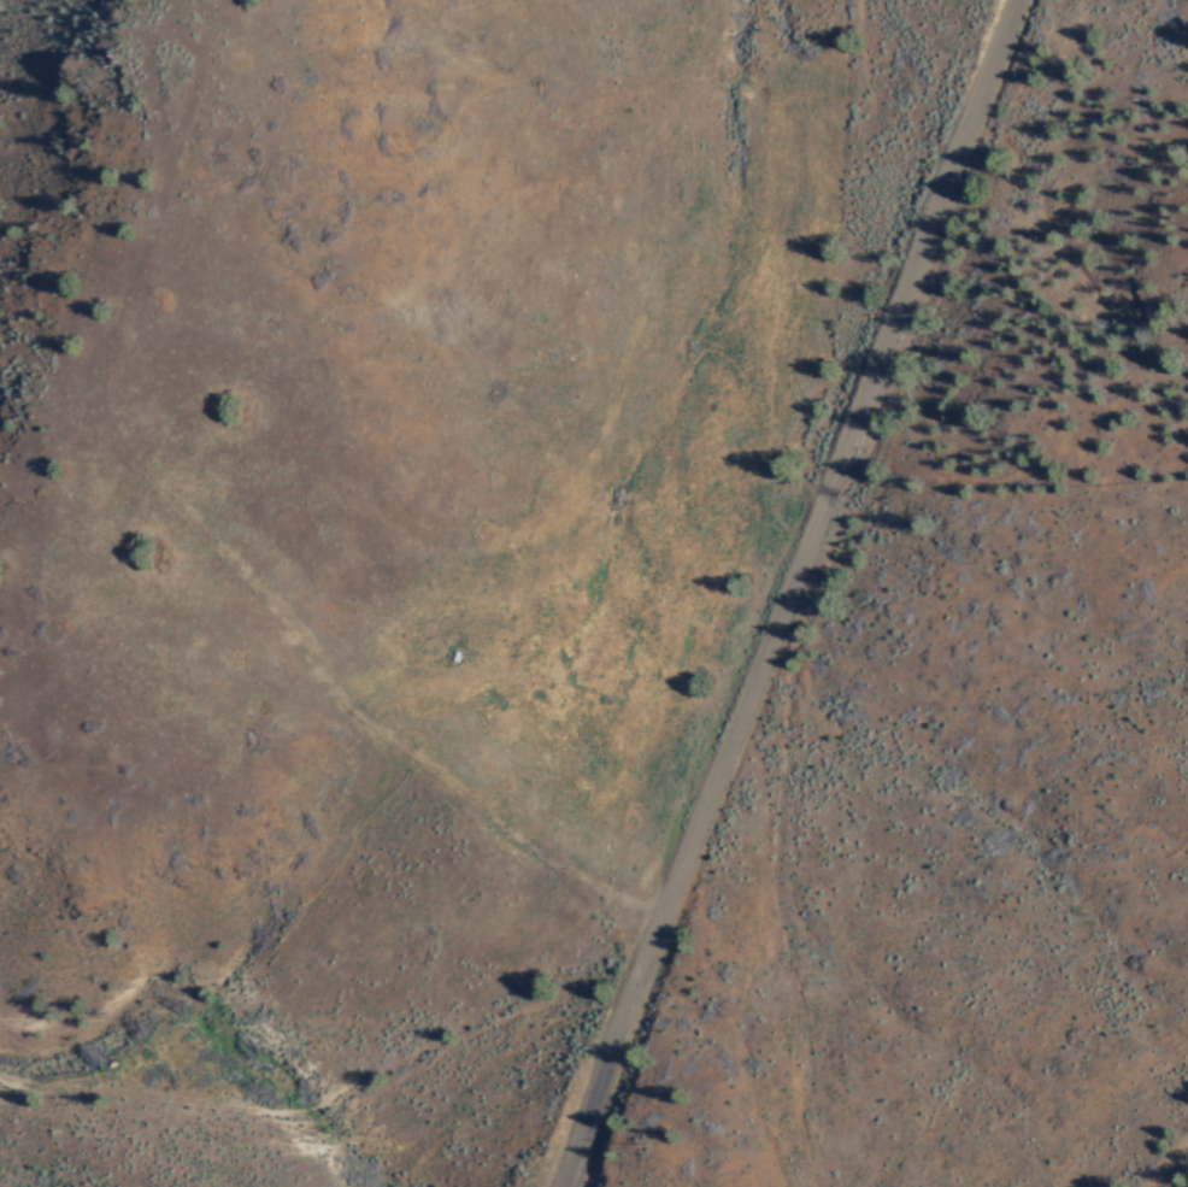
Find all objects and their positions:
road: (737, 606)

